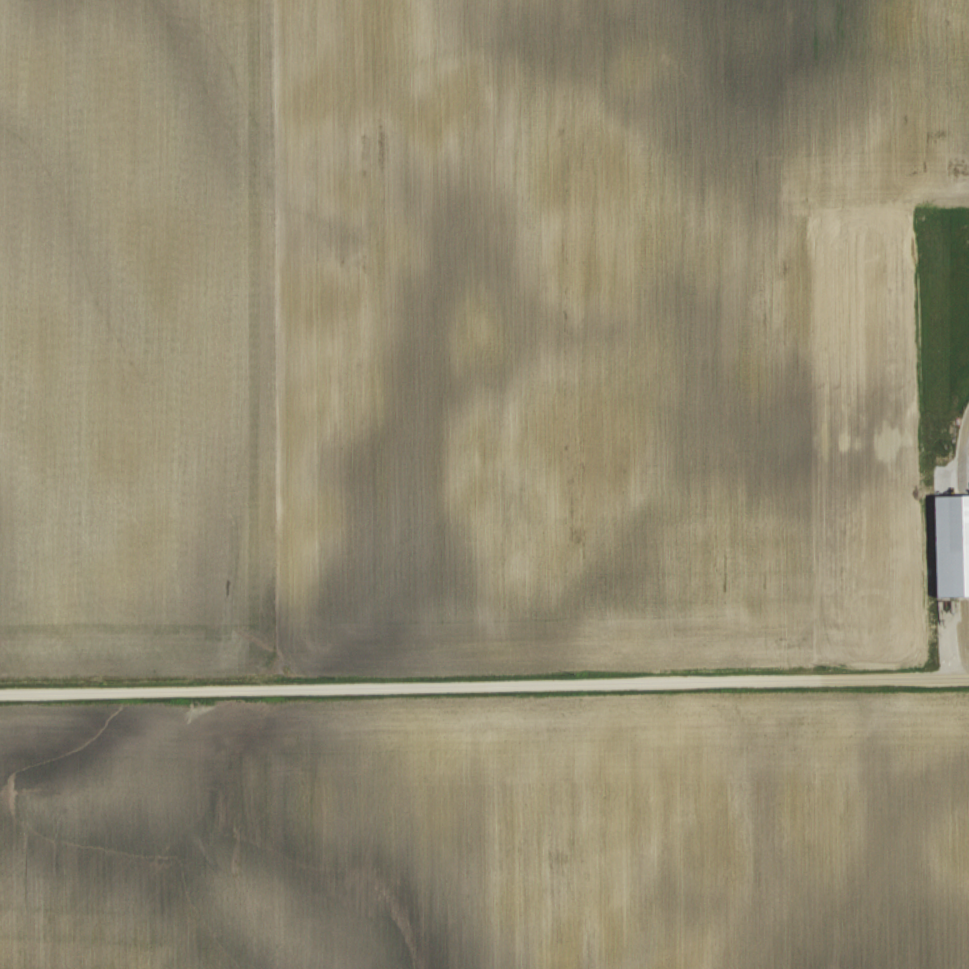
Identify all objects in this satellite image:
road: (962, 443)
building: (952, 545)
road: (484, 683)

